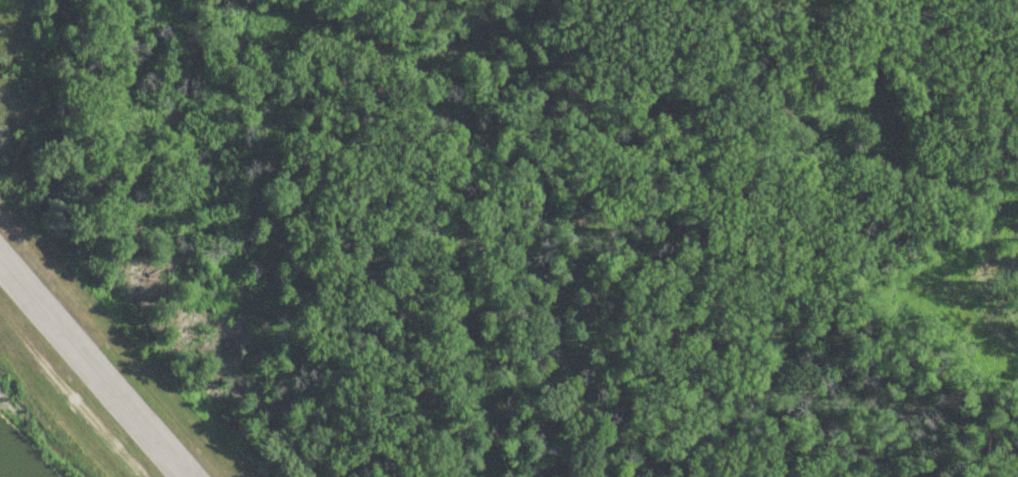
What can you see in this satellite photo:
road: (3, 316)
airport runway: (104, 355)
airport runway: (81, 382)
road: (71, 393)

